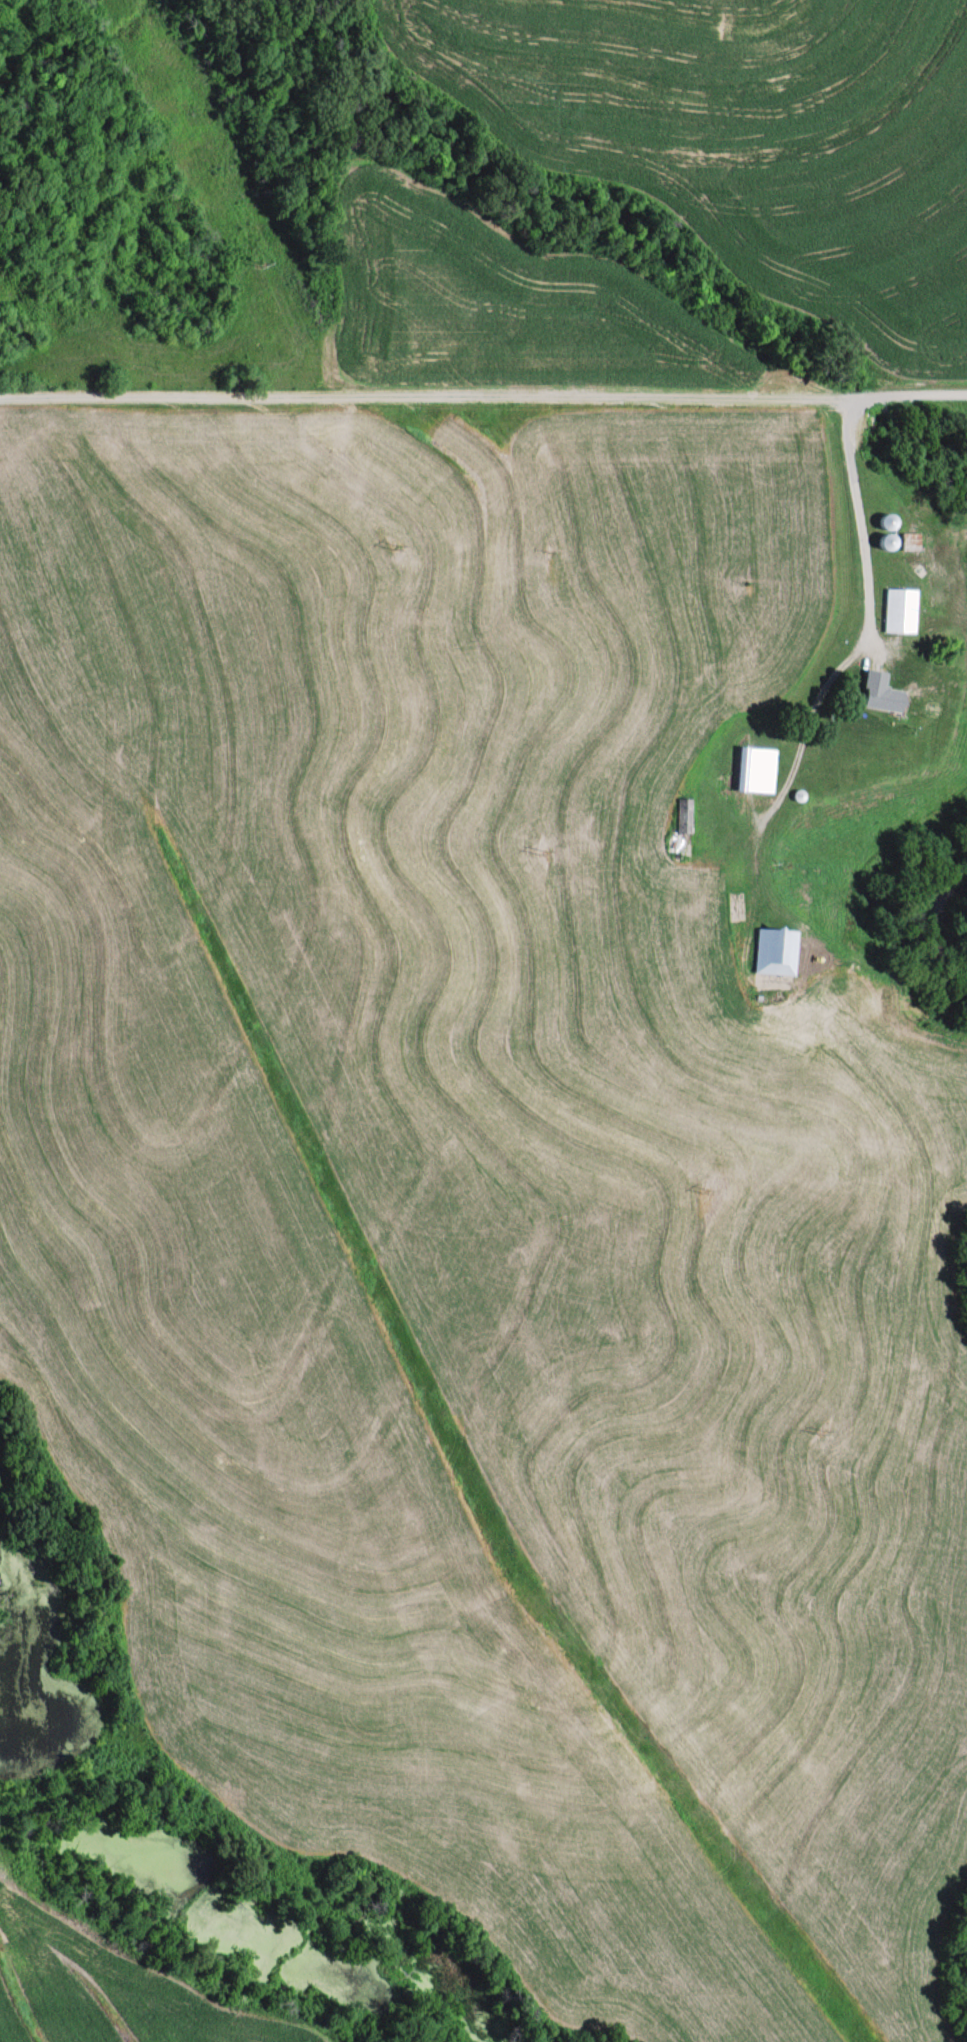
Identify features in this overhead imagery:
power tower: (260, 261)
road: (483, 392)
building: (883, 519)
building: (883, 538)
building: (907, 539)
power tower: (397, 544)
road: (866, 592)
building: (897, 607)
building: (753, 766)
building: (681, 812)
power tower: (544, 850)
building: (771, 948)
power tower: (707, 1191)
power tower: (825, 1436)

